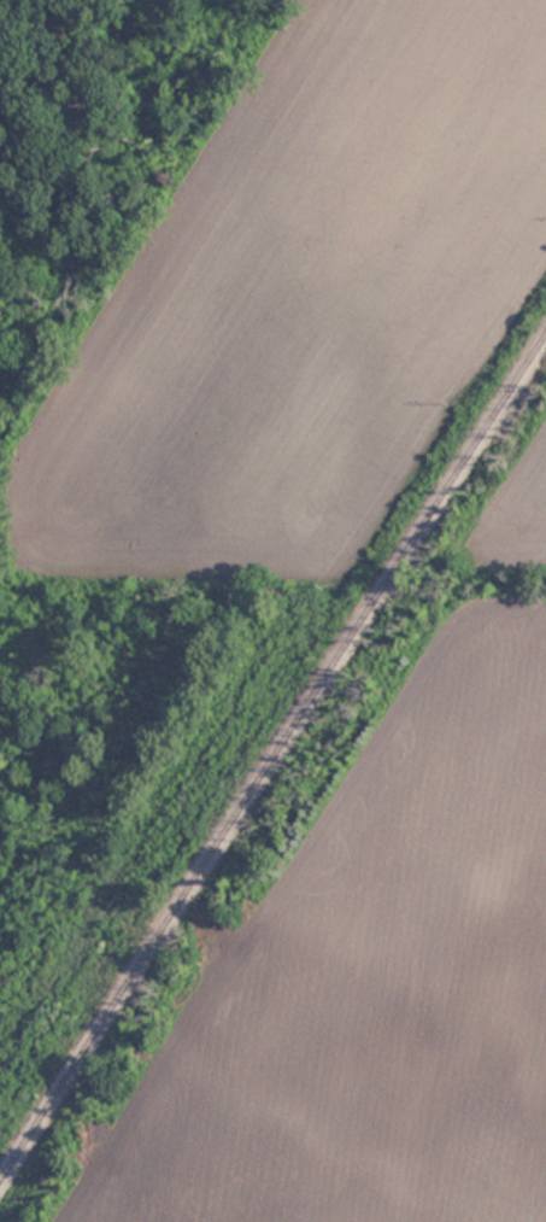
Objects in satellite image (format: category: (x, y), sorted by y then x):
railway: (272, 760)

